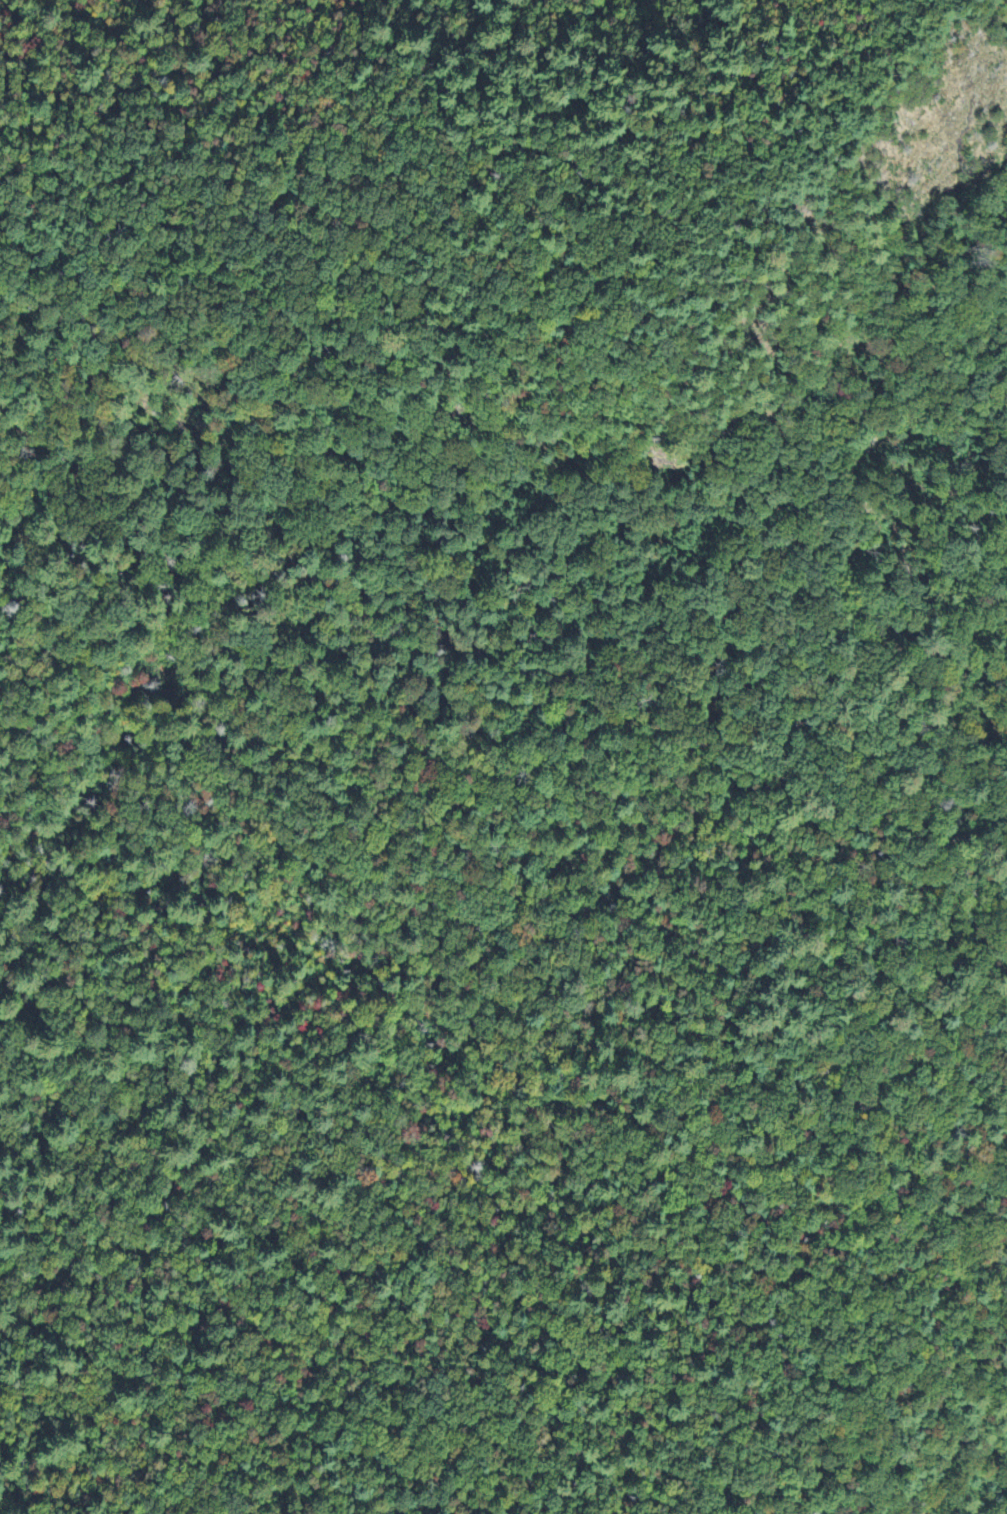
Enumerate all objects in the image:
road: (749, 1345)

